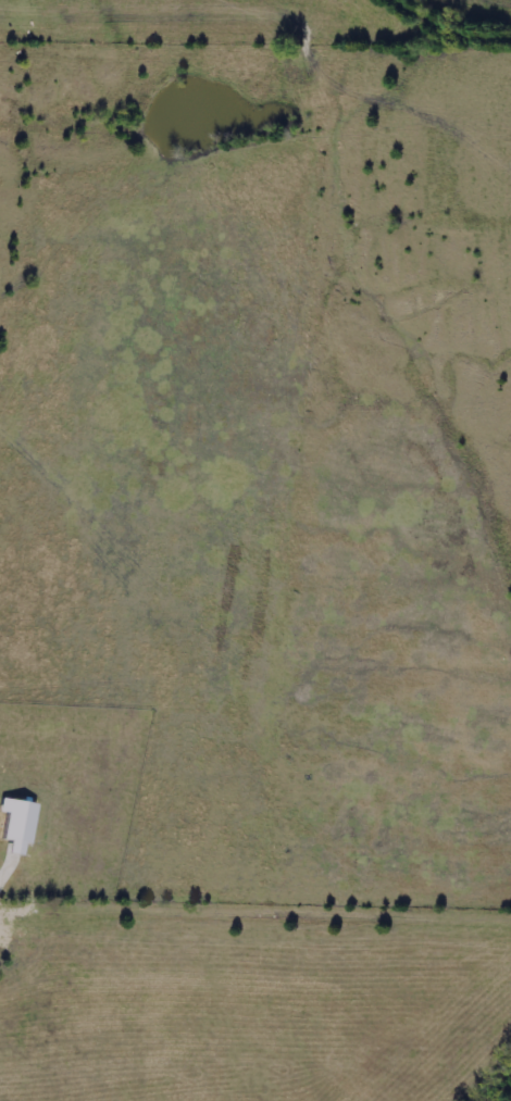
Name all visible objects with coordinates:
building: (17, 825)

